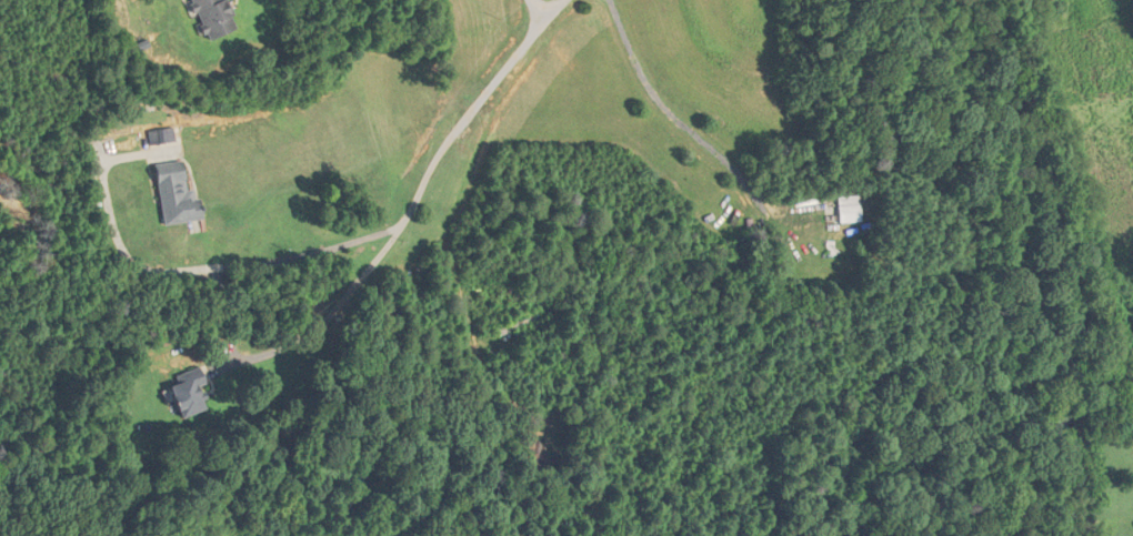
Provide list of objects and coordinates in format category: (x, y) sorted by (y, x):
road: (538, 12)
building: (218, 18)
road: (534, 36)
road: (675, 115)
road: (423, 184)
building: (180, 194)
building: (846, 209)
road: (181, 269)
road: (282, 345)
building: (183, 393)

